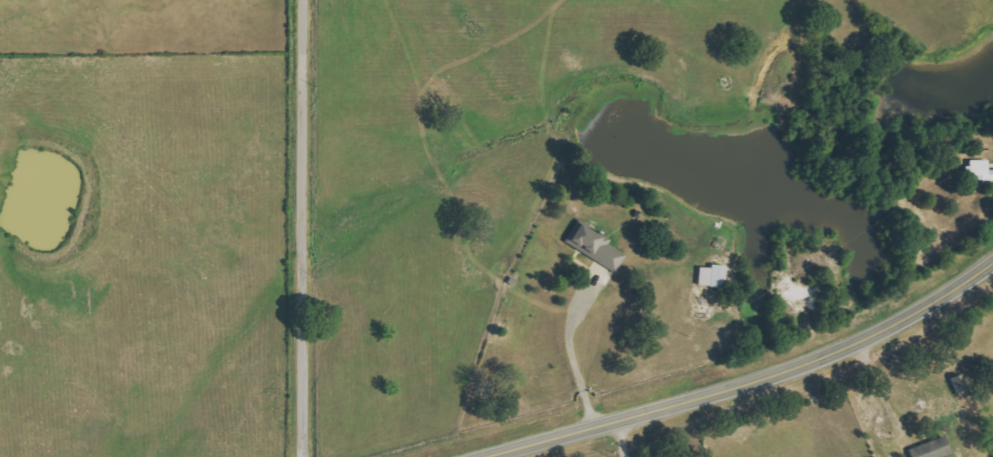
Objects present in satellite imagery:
road: (830, 165)
building: (984, 169)
road: (306, 228)
building: (599, 247)
building: (716, 276)
road: (570, 346)
road: (742, 378)
road: (621, 437)
building: (936, 449)

